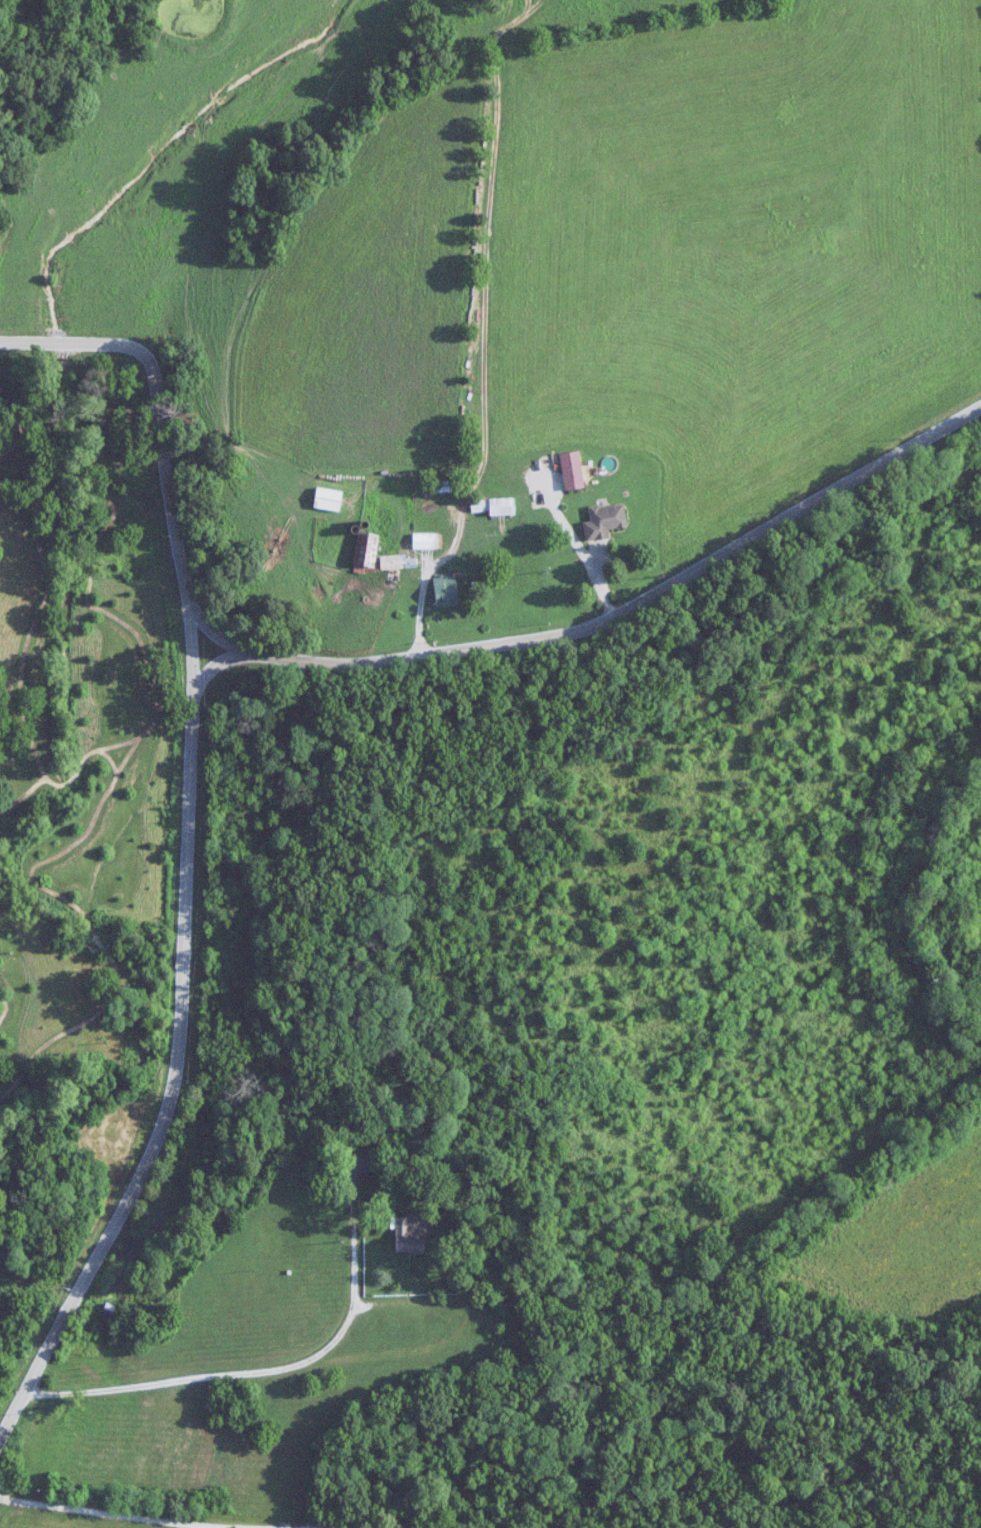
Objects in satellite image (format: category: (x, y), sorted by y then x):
building: (573, 471)
building: (329, 500)
building: (495, 507)
building: (605, 522)
building: (427, 542)
building: (366, 553)
building: (398, 563)
building: (446, 591)
road: (192, 643)
road: (403, 651)
road: (176, 1052)
building: (359, 1166)
building: (410, 1234)
road: (438, 1302)
building: (112, 1313)
road: (261, 1369)
road: (124, 1514)
road: (356, 1524)

